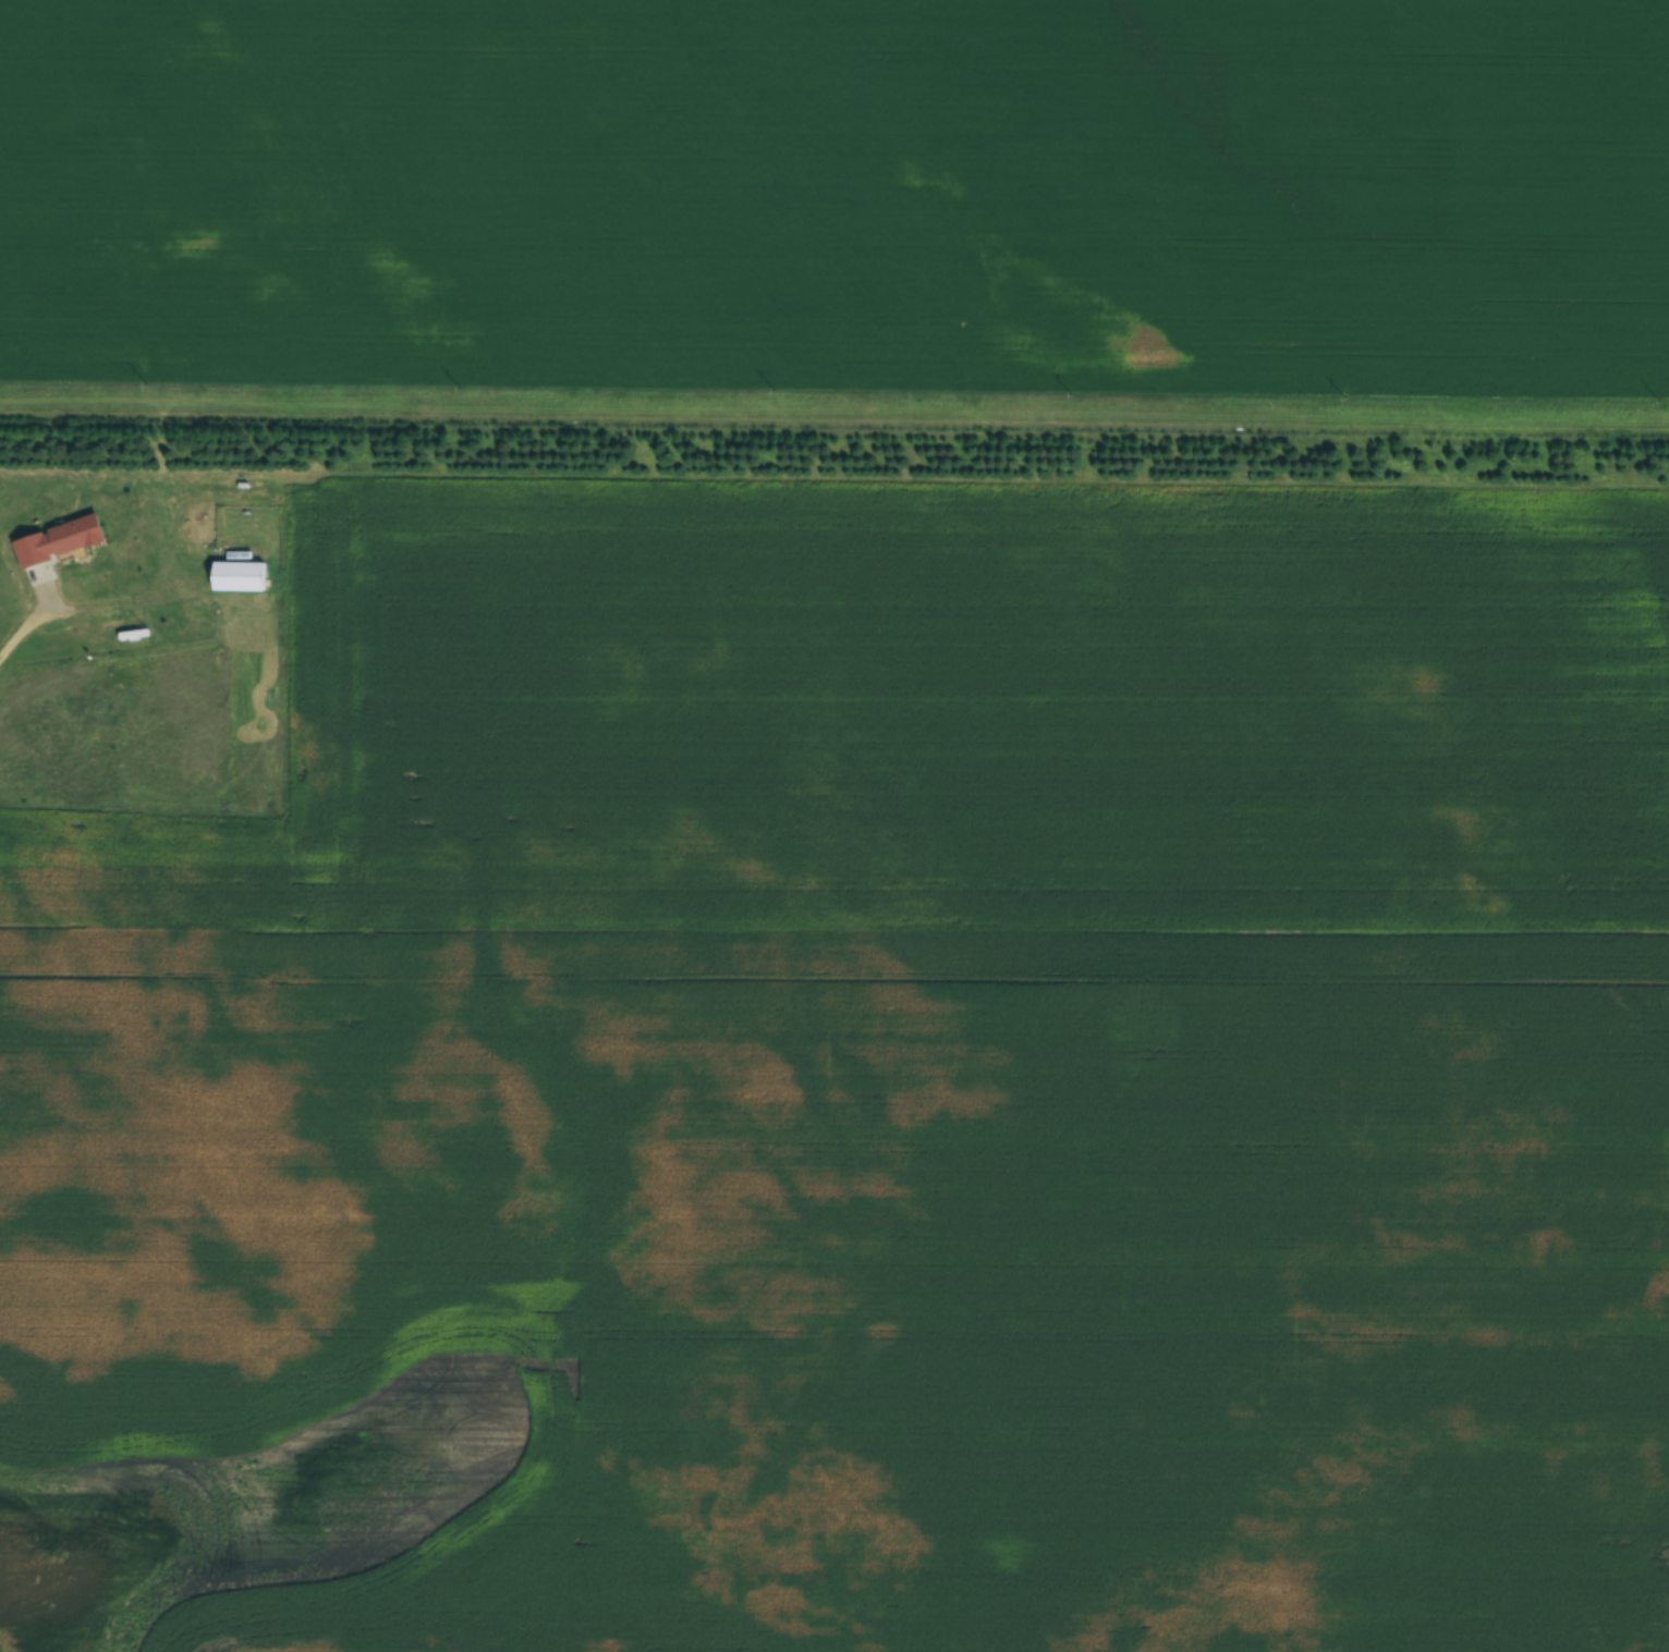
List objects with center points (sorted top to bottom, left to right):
crop: (840, 189)
building: (65, 539)
building: (244, 575)
road: (20, 629)

